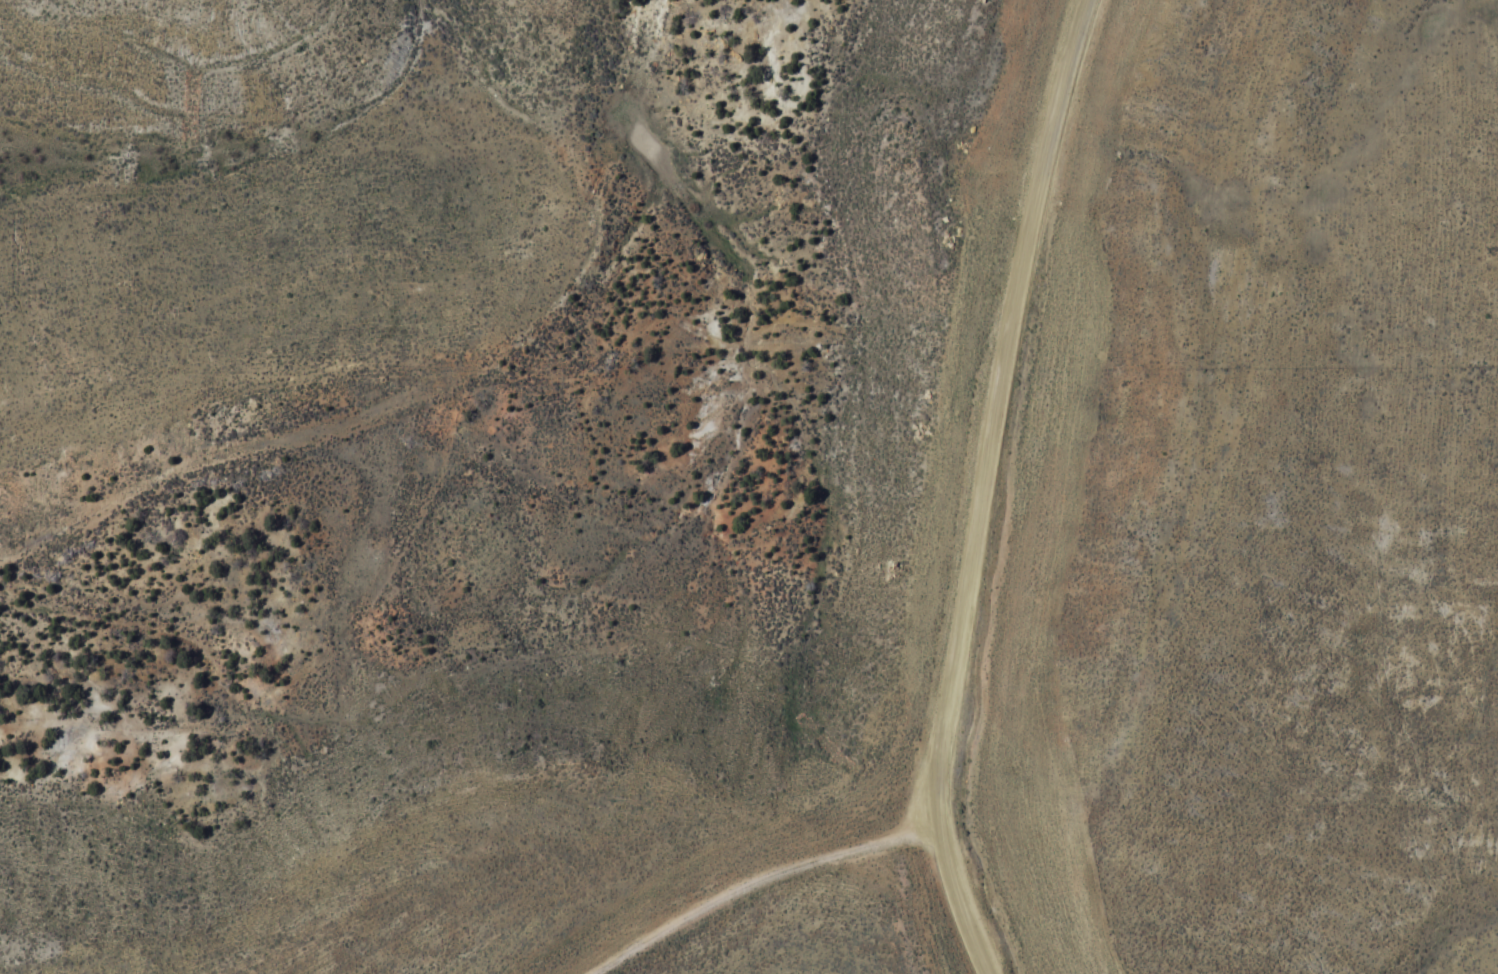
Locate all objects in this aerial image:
road: (997, 486)
road: (753, 875)

